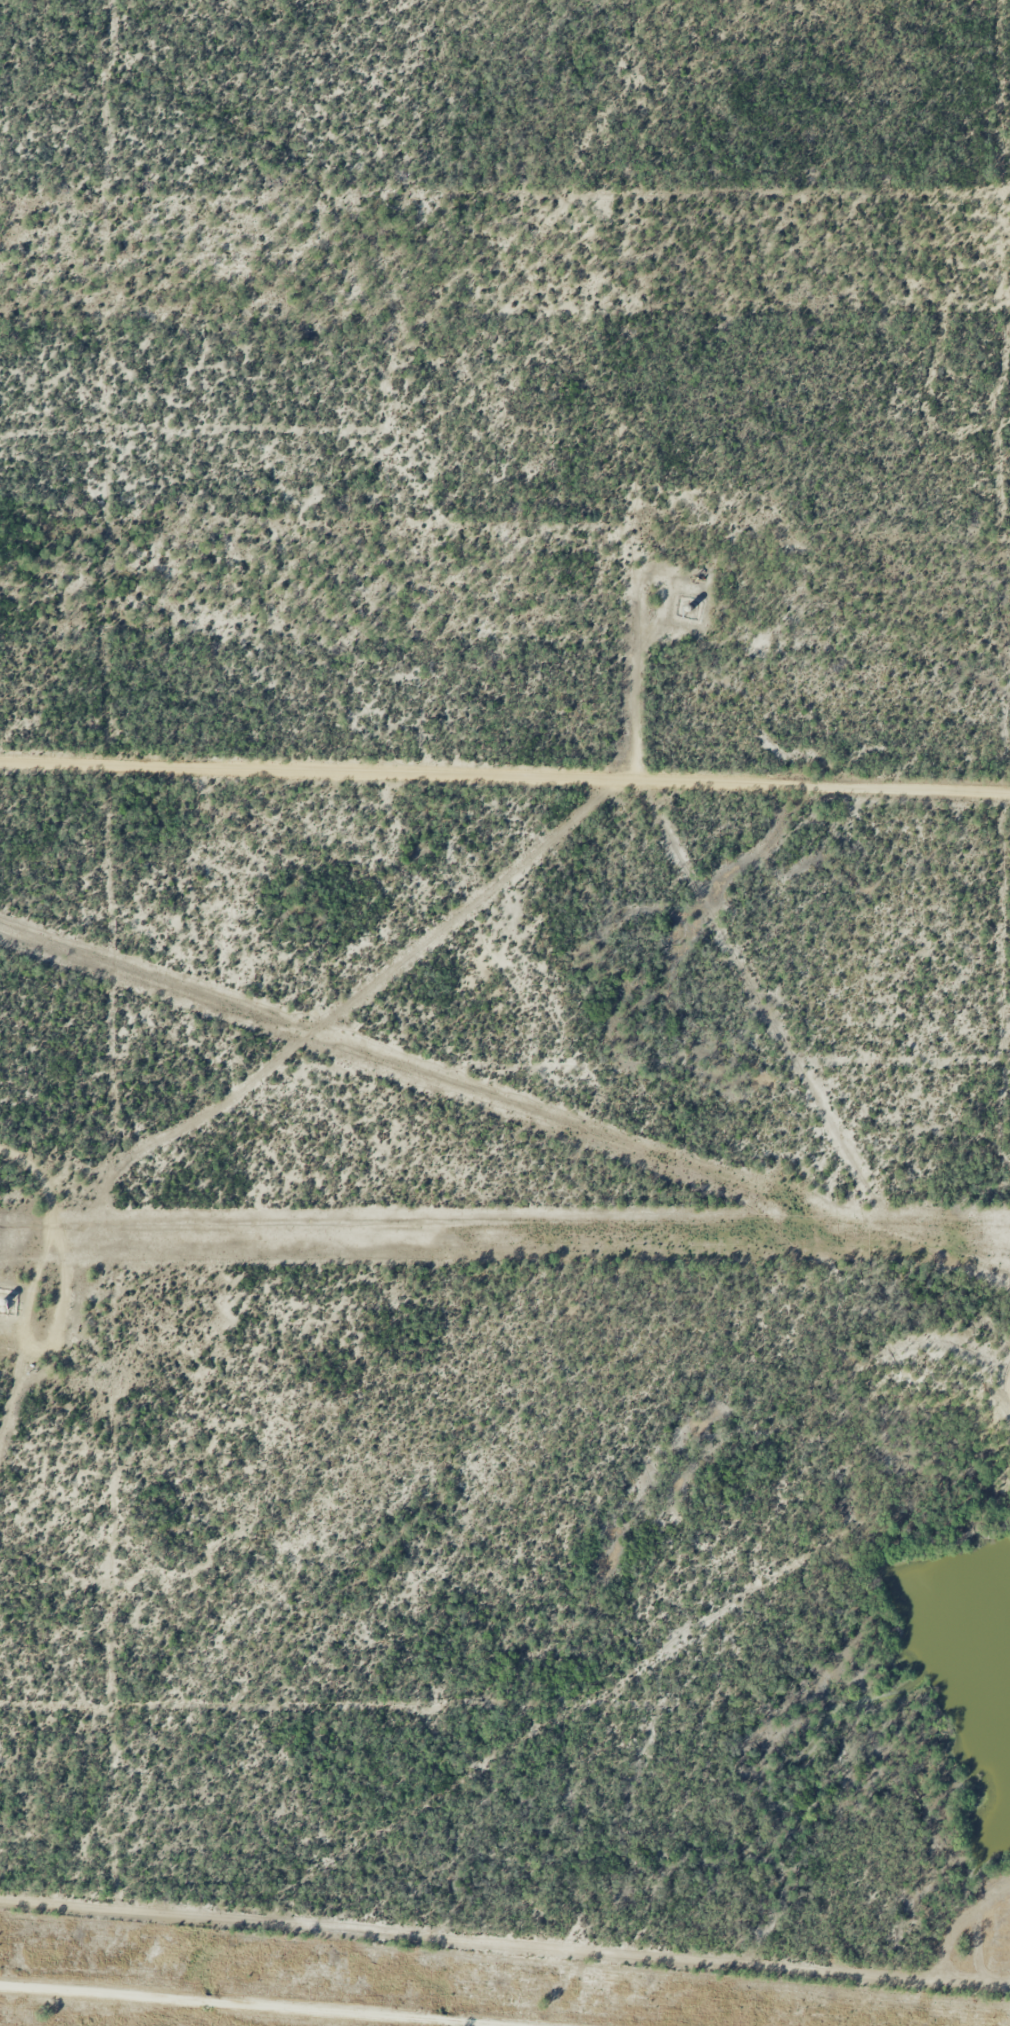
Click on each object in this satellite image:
road: (265, 2004)

